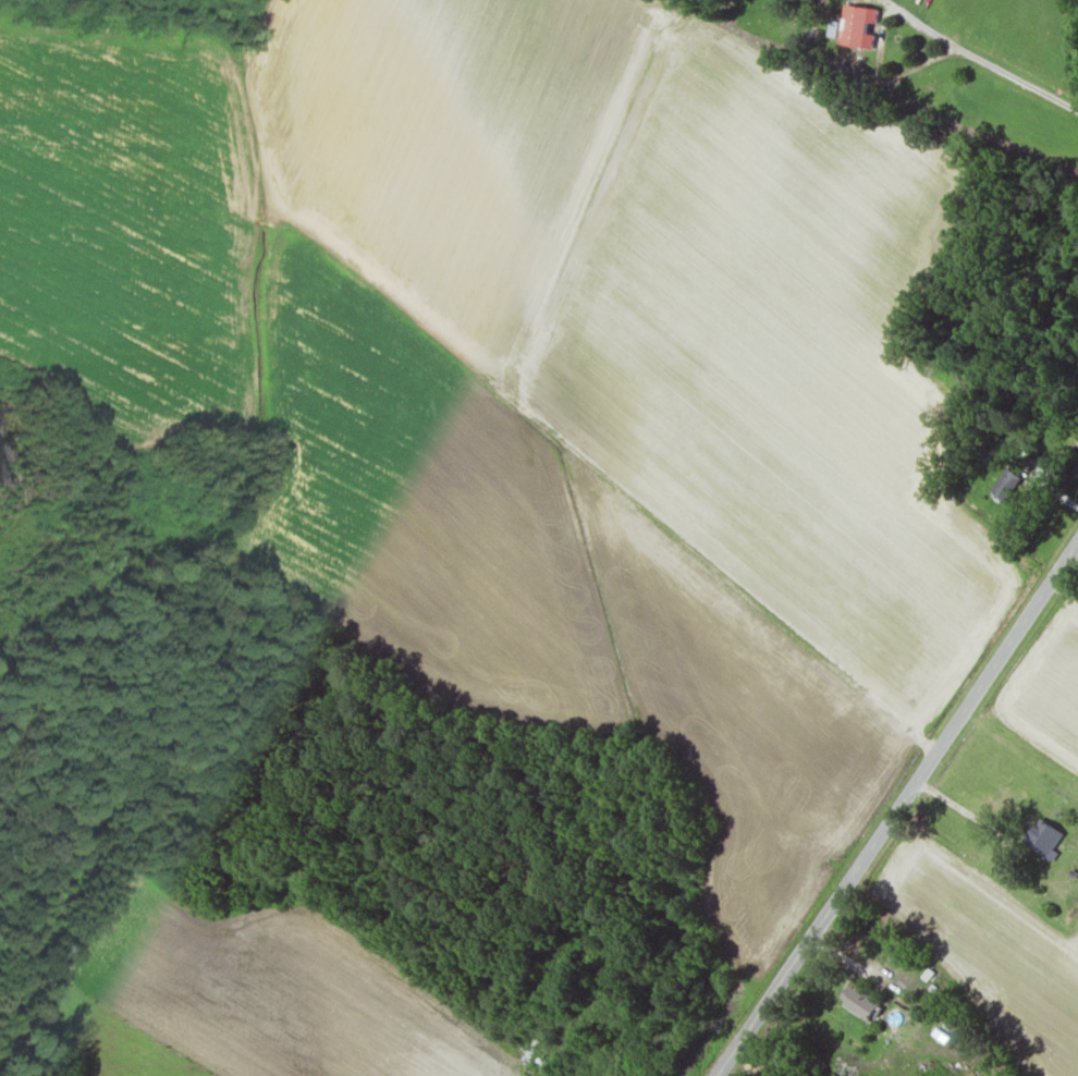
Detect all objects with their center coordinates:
road: (980, 60)
building: (1005, 481)
road: (1066, 582)
road: (896, 807)
building: (1043, 836)
building: (860, 1002)

